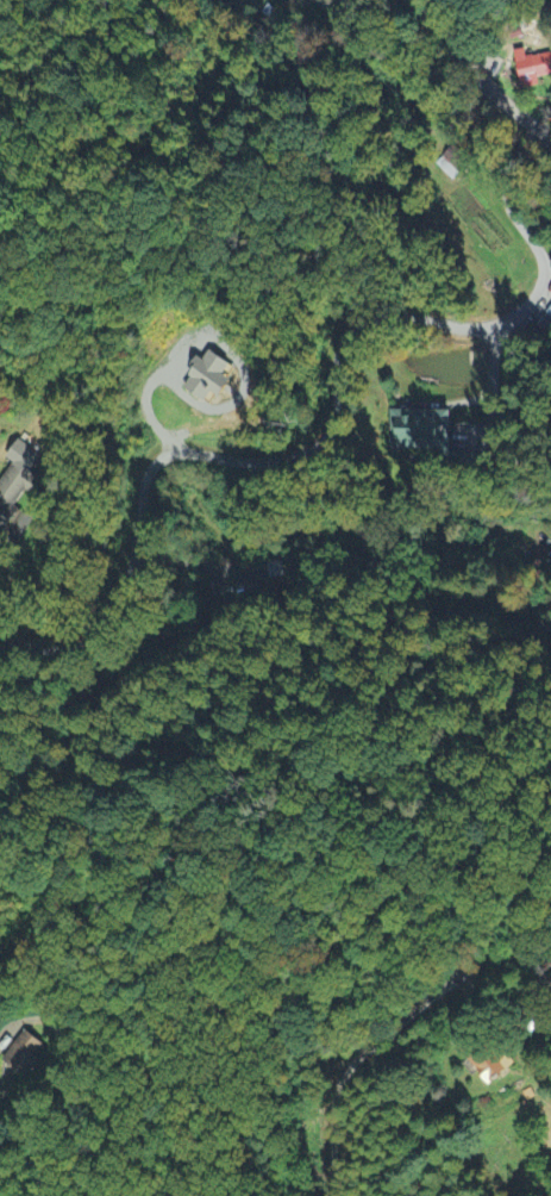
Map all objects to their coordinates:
building: (534, 70)
road: (477, 74)
building: (550, 312)
road: (494, 378)
road: (333, 424)
building: (26, 456)
building: (14, 493)
building: (276, 571)
road: (350, 1059)
building: (488, 1061)

